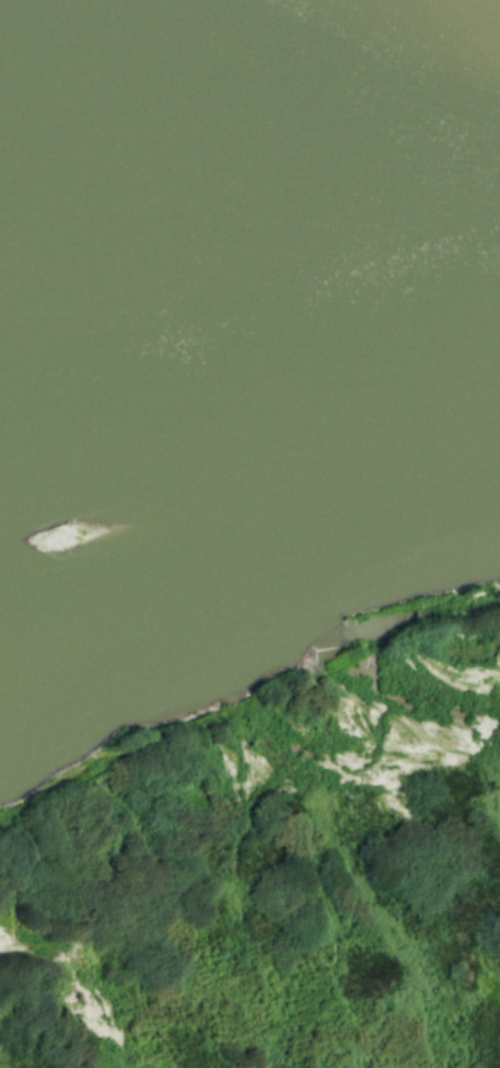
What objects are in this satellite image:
road: (239, 690)

